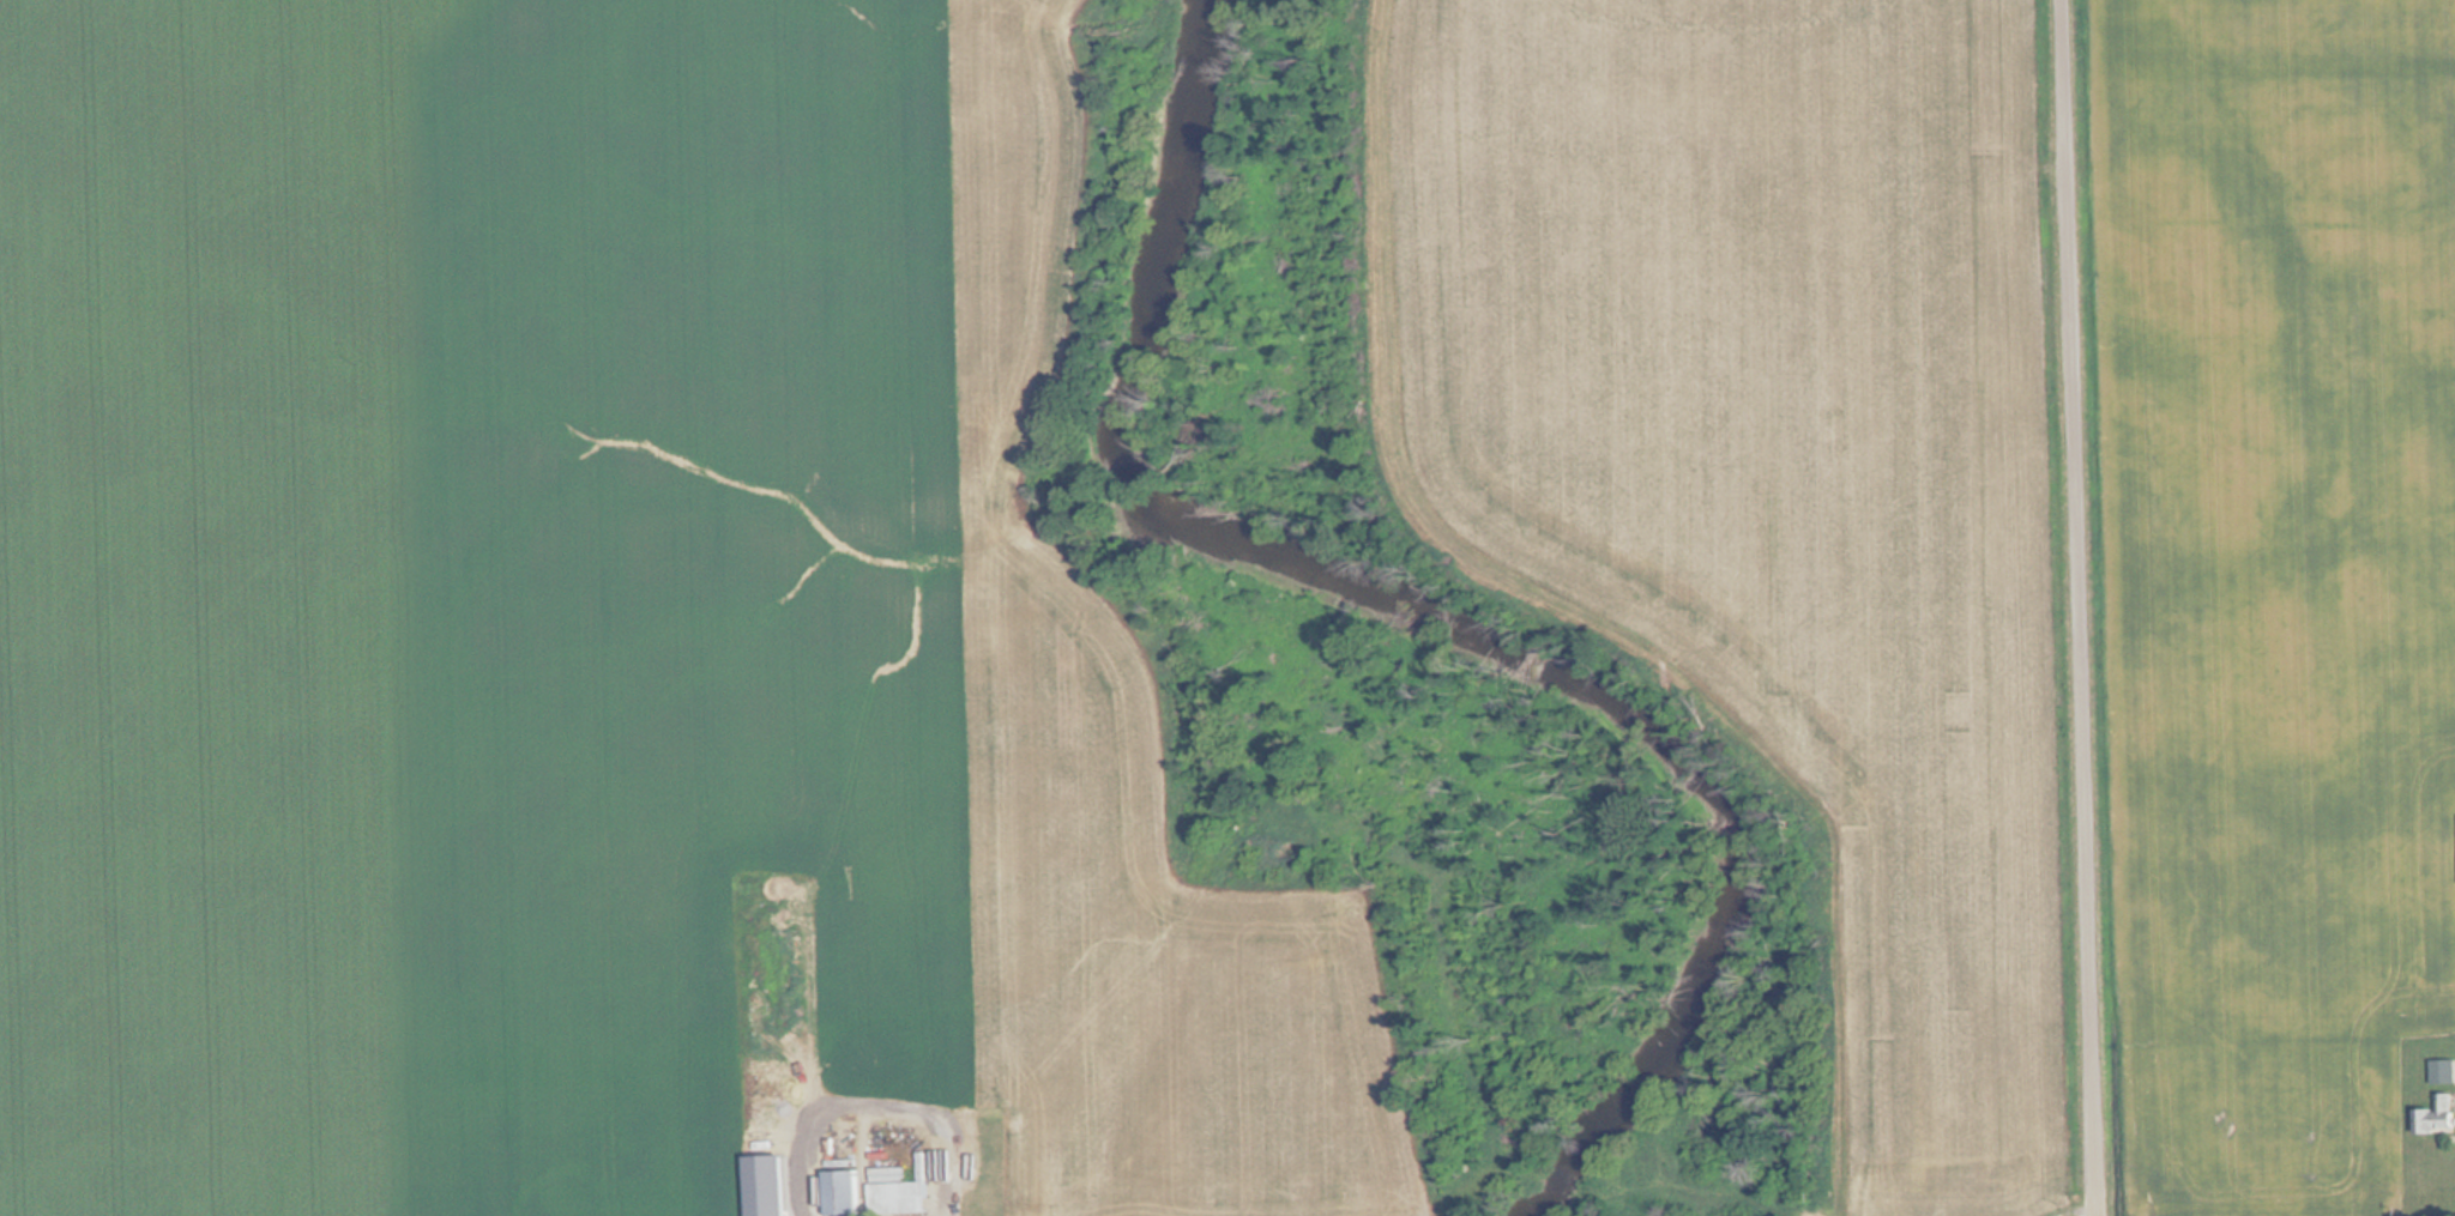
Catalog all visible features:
road: (2088, 607)
river: (1431, 627)
building: (2439, 1072)
building: (2435, 1117)
building: (846, 1192)
building: (904, 1193)

